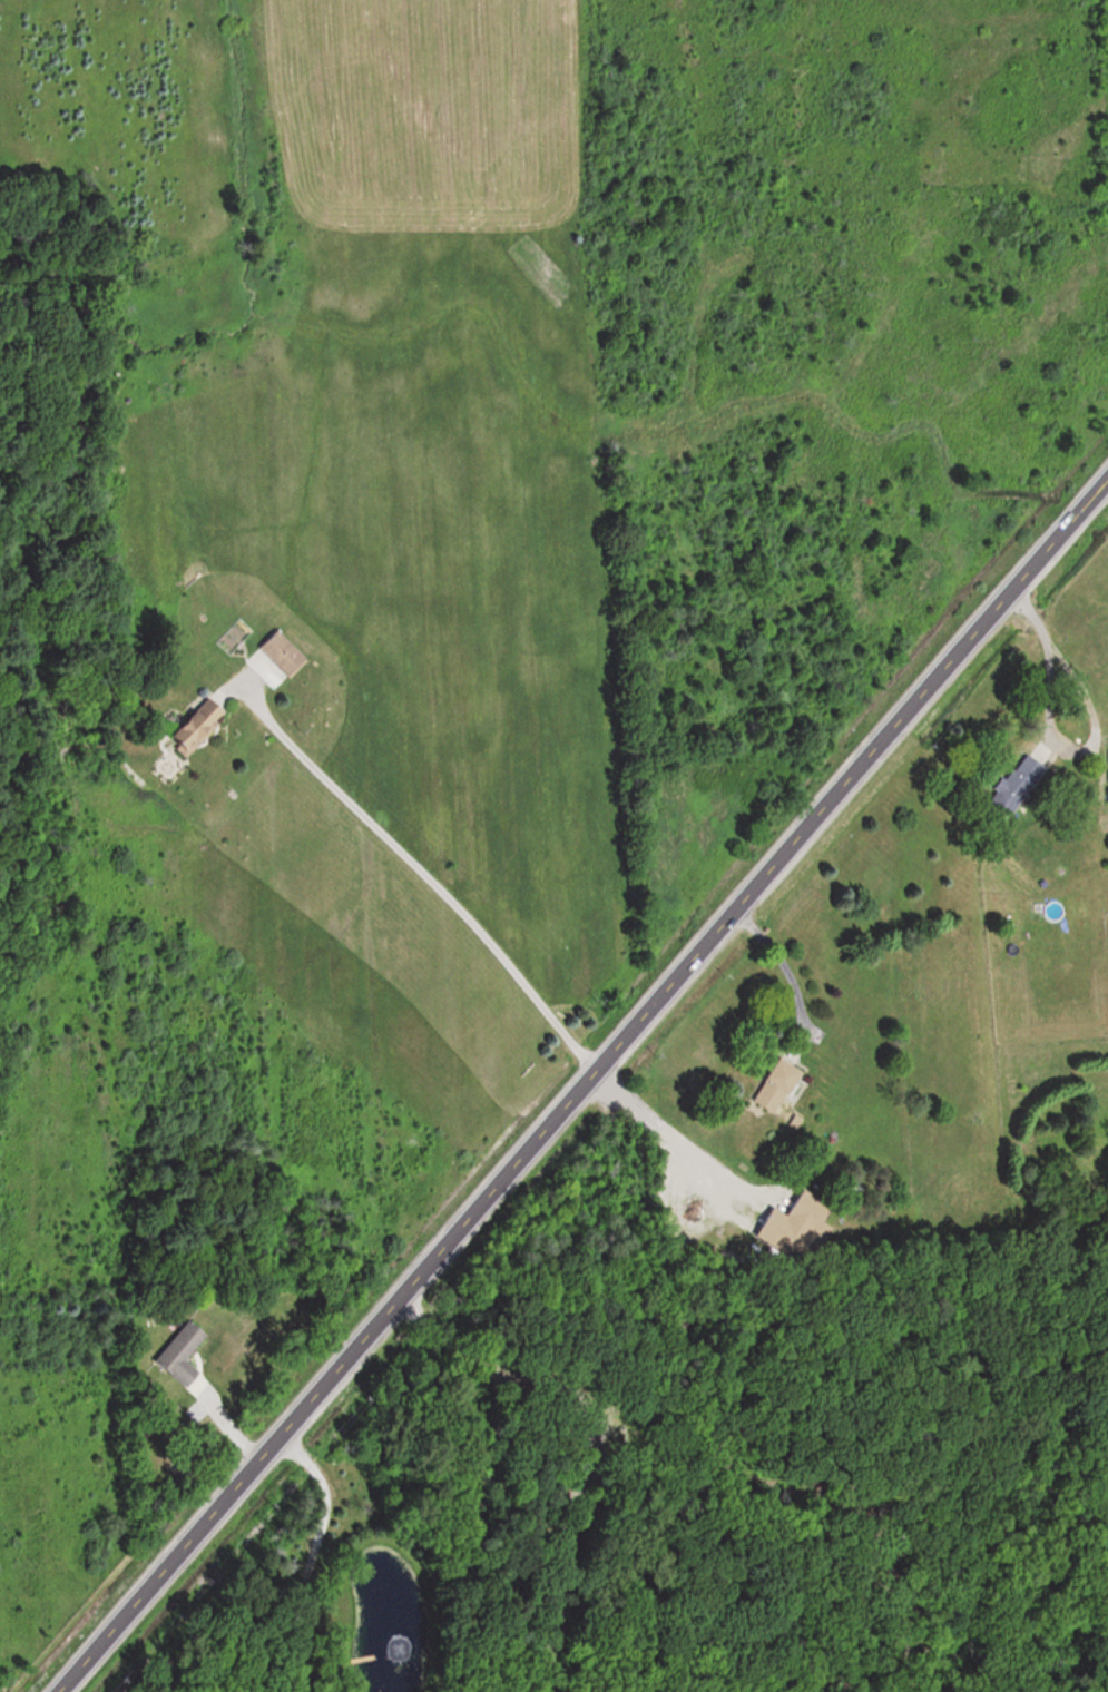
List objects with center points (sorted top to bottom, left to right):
road: (1046, 648)
building: (283, 652)
building: (1107, 758)
building: (1012, 784)
road: (425, 867)
road: (782, 963)
road: (582, 1083)
building: (777, 1084)
road: (665, 1135)
building: (184, 1355)
road: (589, 1439)
road: (314, 1555)

